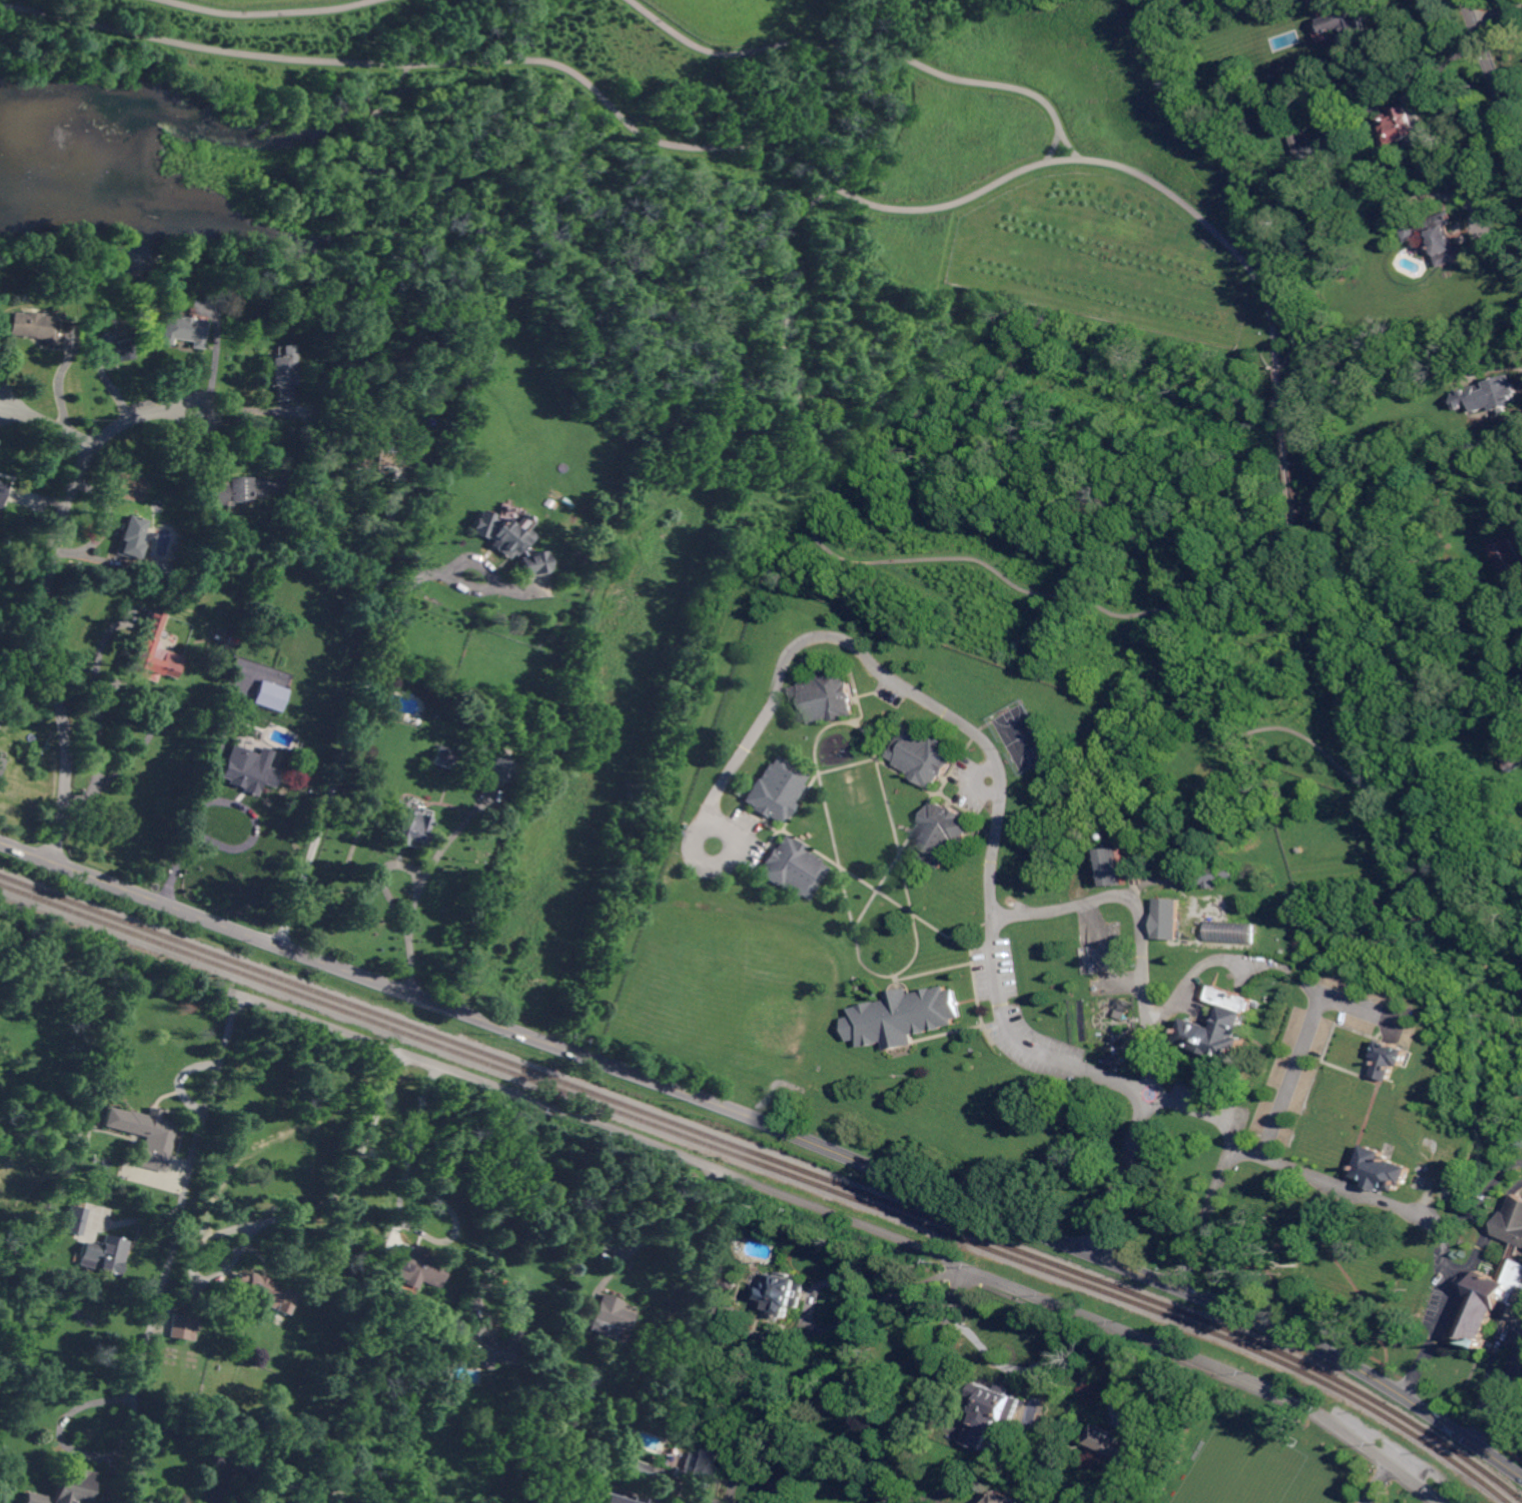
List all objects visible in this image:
road: (1498, 10)
road: (260, 13)
building: (1341, 20)
road: (897, 58)
road: (471, 60)
road: (1407, 73)
road: (1495, 73)
building: (1406, 123)
building: (1346, 132)
building: (1300, 140)
road: (1098, 162)
building: (1322, 206)
road: (1492, 227)
building: (1437, 237)
building: (33, 328)
building: (182, 330)
building: (112, 352)
building: (278, 377)
building: (1498, 396)
road: (48, 423)
building: (415, 441)
building: (375, 459)
road: (1293, 459)
building: (228, 491)
building: (2, 492)
building: (128, 538)
building: (507, 538)
road: (908, 556)
building: (1507, 556)
road: (384, 557)
building: (155, 570)
road: (45, 591)
building: (220, 643)
road: (1320, 646)
building: (150, 651)
building: (485, 682)
building: (268, 696)
building: (825, 699)
building: (0, 713)
road: (1307, 721)
park: (1023, 736)
building: (923, 755)
road: (338, 757)
building: (443, 758)
building: (1511, 761)
building: (1, 762)
road: (881, 765)
building: (248, 770)
building: (502, 770)
road: (1001, 771)
building: (775, 790)
road: (202, 796)
road: (1398, 806)
building: (408, 827)
road: (728, 827)
building: (941, 834)
building: (1114, 837)
building: (1070, 860)
building: (1115, 864)
building: (793, 868)
building: (1149, 870)
building: (1219, 874)
road: (418, 888)
road: (907, 903)
road: (915, 911)
building: (1170, 919)
road: (1138, 925)
building: (1234, 932)
building: (1103, 959)
road: (926, 971)
building: (904, 1017)
building: (1223, 1026)
road: (1303, 1043)
building: (1116, 1059)
building: (1390, 1059)
road: (776, 1125)
building: (146, 1136)
building: (80, 1142)
road: (1229, 1148)
road: (408, 1154)
railway: (773, 1160)
railway: (768, 1167)
building: (1382, 1169)
road: (1333, 1181)
road: (192, 1193)
building: (28, 1195)
road: (1506, 1202)
road: (519, 1206)
road: (297, 1210)
building: (72, 1220)
road: (853, 1221)
building: (1513, 1222)
road: (656, 1235)
road: (1488, 1238)
road: (1447, 1244)
building: (101, 1254)
building: (416, 1266)
building: (728, 1283)
building: (265, 1292)
building: (784, 1294)
building: (1492, 1302)
building: (609, 1316)
building: (697, 1317)
road: (1442, 1320)
road: (840, 1322)
building: (180, 1327)
road: (760, 1338)
building: (490, 1345)
building: (592, 1361)
road: (1031, 1369)
building: (739, 1383)
road: (929, 1385)
road: (1501, 1396)
building: (993, 1414)
building: (1116, 1445)
road: (1511, 1448)
road: (69, 1450)
road: (226, 1453)
building: (698, 1466)
park: (1240, 1466)
road: (752, 1467)
building: (640, 1470)
road: (223, 1480)
road: (1373, 1481)
building: (72, 1486)
building: (1004, 1498)
building: (613, 1500)
building: (640, 1500)

